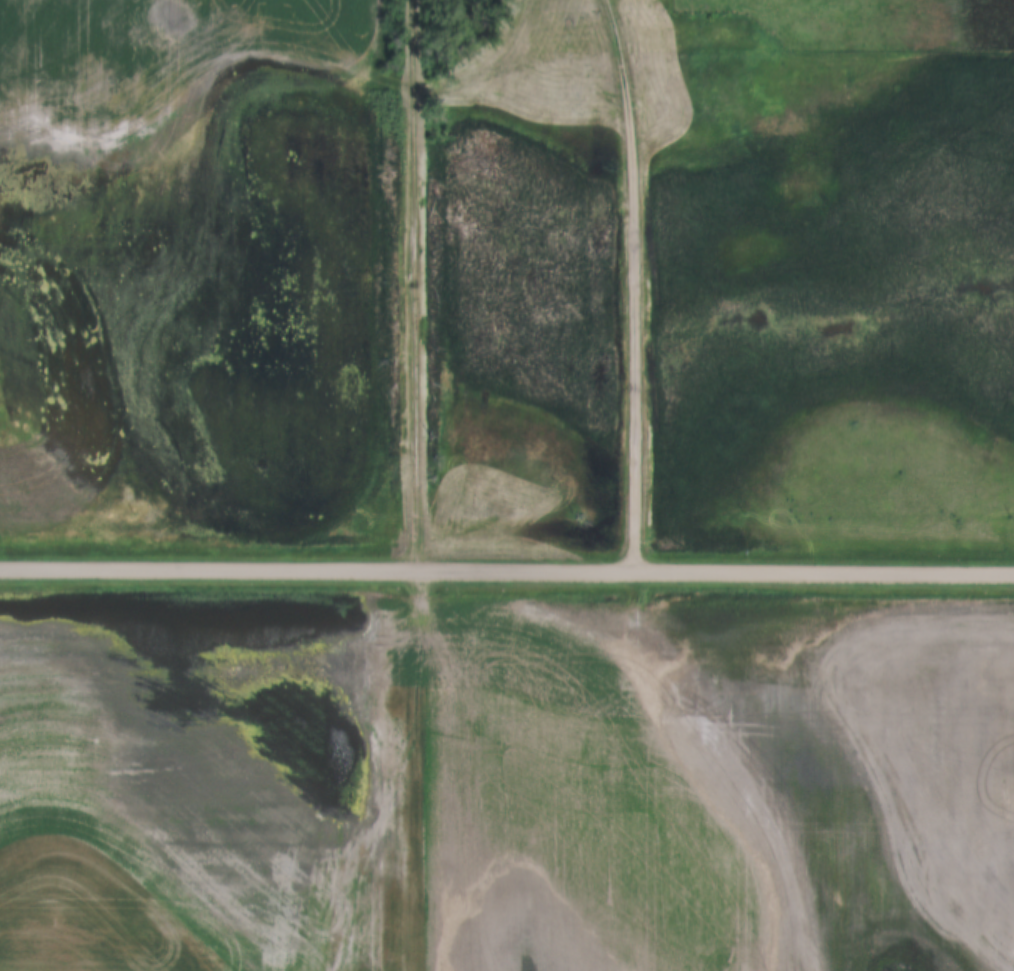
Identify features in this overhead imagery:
road: (633, 285)
road: (411, 286)
road: (507, 574)

